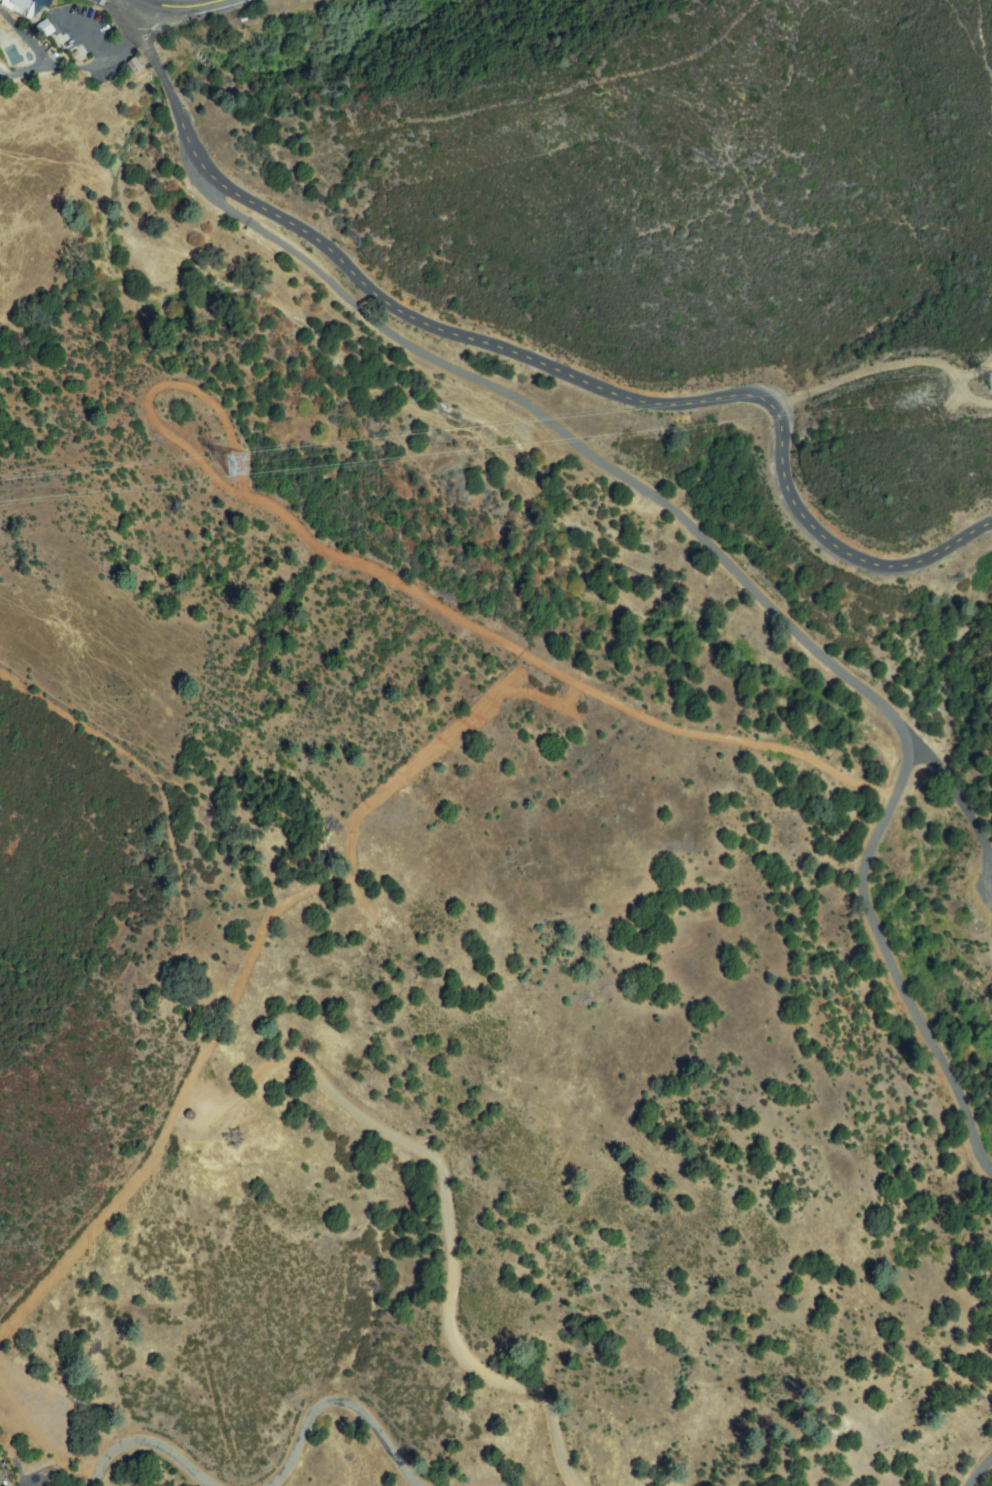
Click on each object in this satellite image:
building: (4, 1)
building: (25, 5)
road: (173, 5)
road: (122, 9)
building: (45, 28)
road: (82, 43)
road: (91, 62)
road: (537, 356)
power tower: (985, 380)
road: (557, 422)
power tower: (222, 463)
road: (956, 791)
road: (886, 956)
road: (342, 1408)
road: (150, 1447)
road: (981, 1474)

